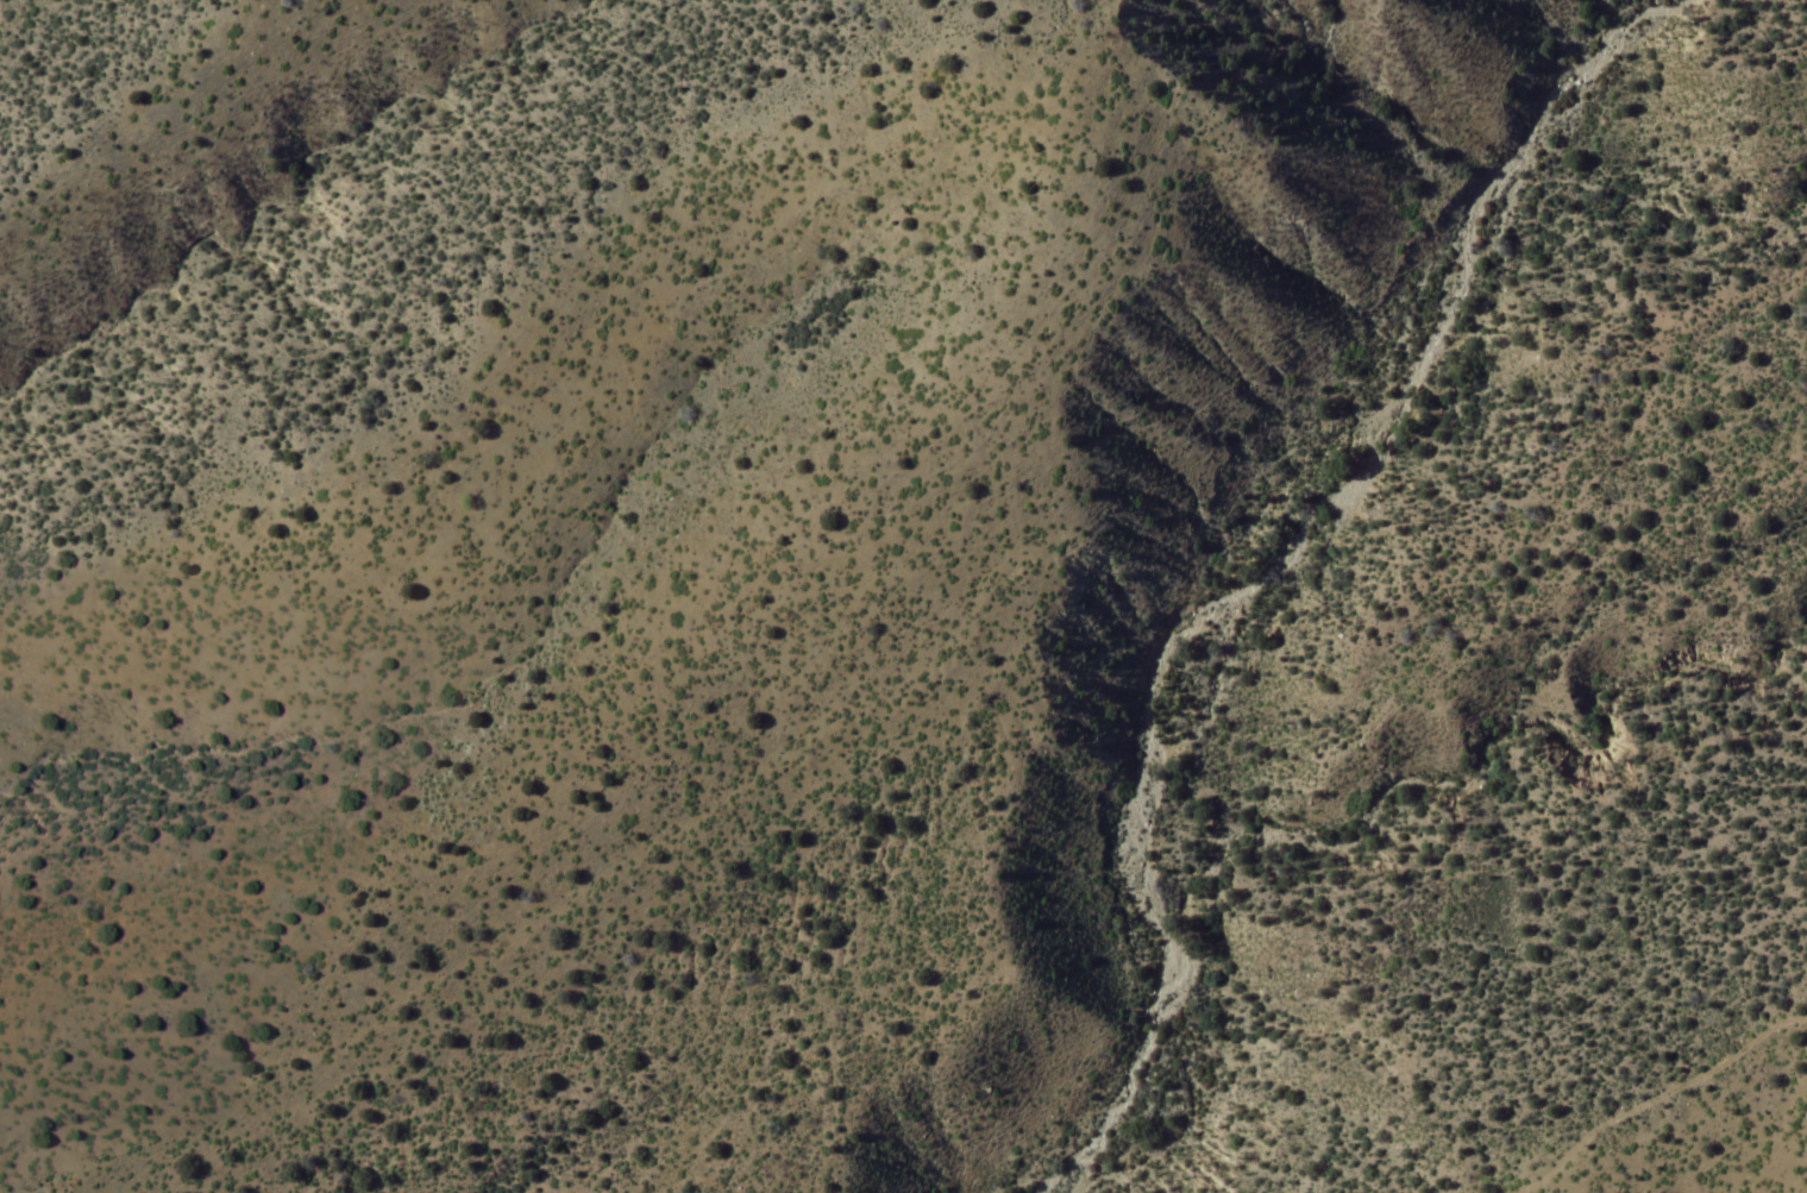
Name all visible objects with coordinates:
road: (1682, 1105)

